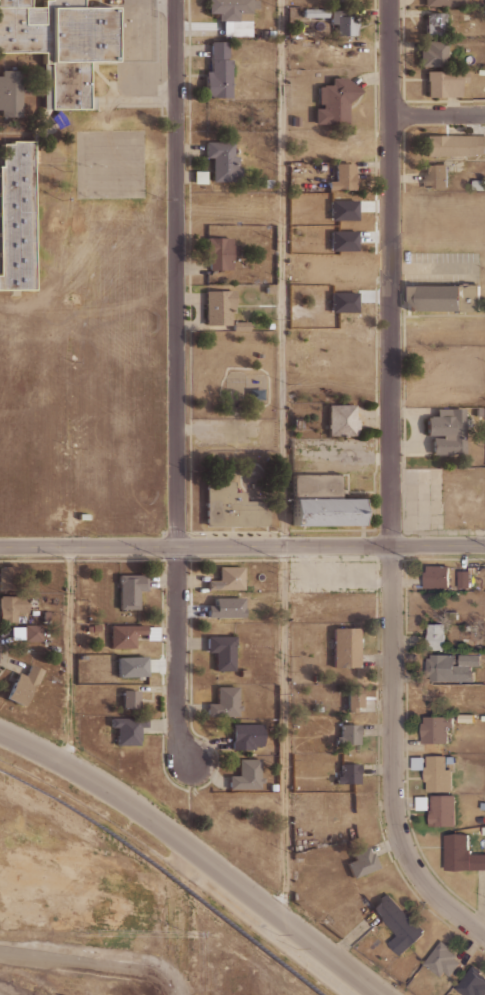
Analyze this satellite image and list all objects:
building: (345, 1)
building: (443, 2)
building: (231, 7)
building: (315, 12)
building: (434, 24)
building: (345, 25)
building: (236, 27)
building: (264, 33)
building: (270, 34)
building: (60, 44)
building: (218, 49)
building: (433, 53)
building: (482, 71)
building: (218, 78)
building: (445, 82)
building: (10, 93)
building: (335, 101)
road: (437, 113)
building: (295, 121)
building: (454, 145)
building: (222, 160)
building: (320, 167)
building: (66, 173)
building: (436, 176)
building: (200, 177)
building: (343, 177)
building: (267, 183)
building: (478, 185)
building: (17, 216)
building: (221, 252)
road: (280, 285)
building: (269, 289)
building: (443, 296)
building: (219, 306)
building: (240, 325)
building: (269, 325)
building: (432, 359)
road: (174, 380)
building: (257, 394)
building: (480, 411)
building: (341, 419)
building: (297, 422)
building: (446, 430)
parking lot: (224, 431)
parking lot: (333, 455)
road: (281, 458)
building: (316, 483)
road: (391, 484)
parking lot: (422, 498)
building: (232, 506)
building: (327, 512)
building: (82, 516)
road: (242, 544)
parking lot: (332, 575)
building: (436, 577)
building: (10, 578)
building: (227, 578)
building: (463, 579)
building: (413, 583)
building: (419, 583)
building: (127, 593)
building: (12, 609)
building: (46, 615)
road: (325, 627)
building: (469, 628)
building: (33, 632)
building: (436, 636)
building: (121, 638)
building: (346, 646)
building: (221, 650)
road: (71, 655)
building: (469, 662)
building: (133, 668)
building: (448, 670)
building: (22, 685)
building: (354, 697)
building: (134, 698)
building: (226, 700)
building: (483, 718)
building: (465, 719)
building: (128, 730)
building: (438, 732)
building: (352, 735)
building: (246, 736)
building: (348, 773)
building: (441, 773)
building: (247, 776)
building: (443, 814)
building: (462, 850)
road: (197, 853)
building: (365, 861)
building: (398, 924)
building: (442, 961)
building: (471, 983)

